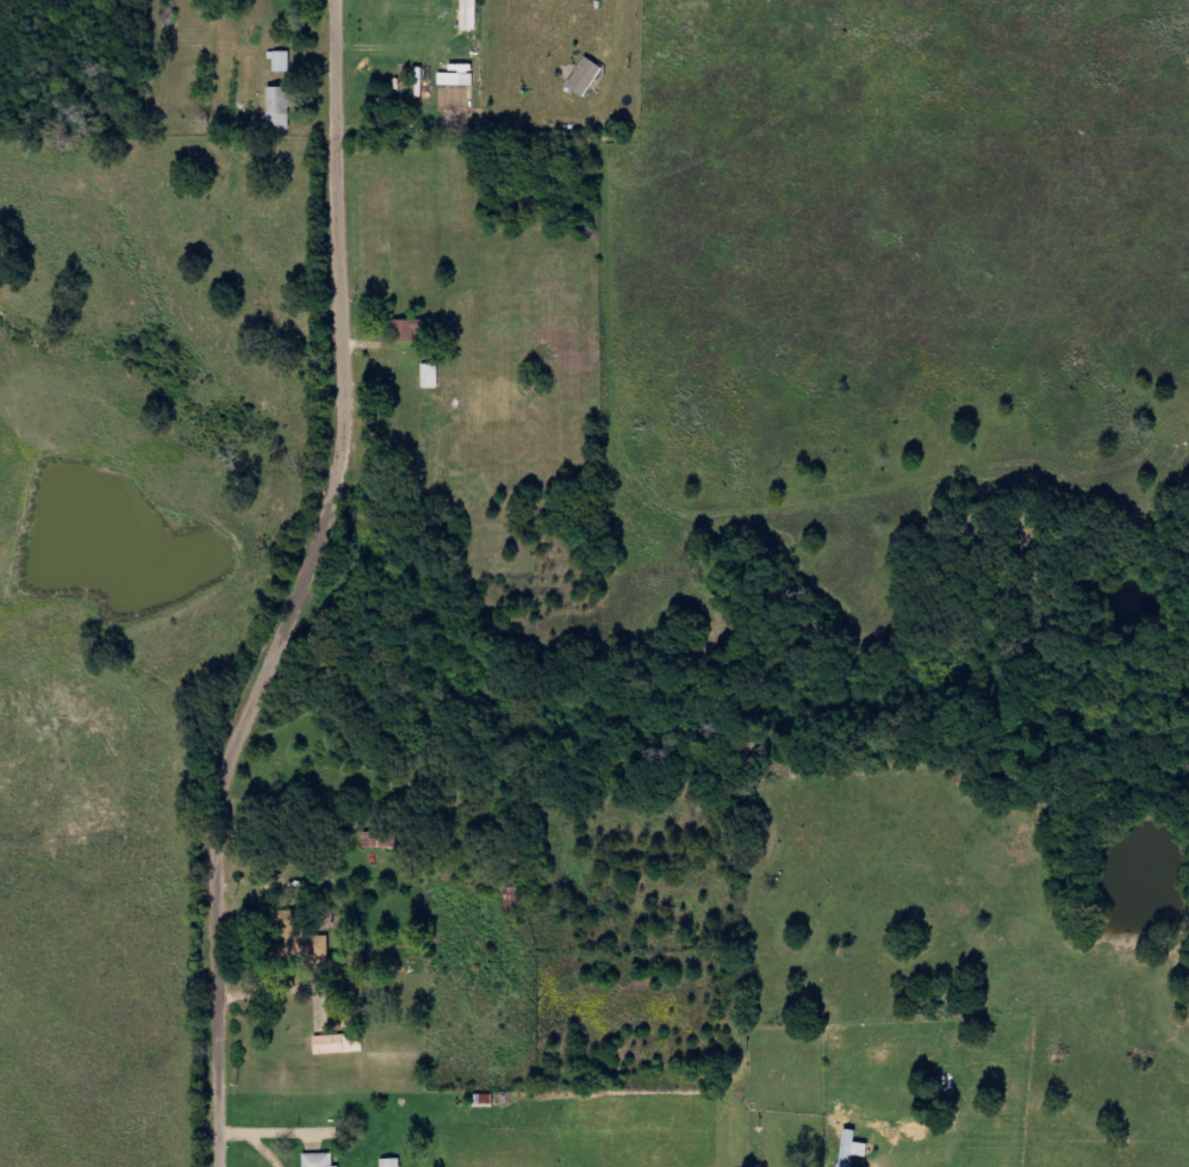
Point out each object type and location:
building: (469, 15)
building: (282, 62)
building: (586, 76)
building: (457, 80)
building: (422, 81)
building: (279, 108)
building: (407, 330)
building: (431, 375)
road: (309, 588)
building: (380, 839)
building: (298, 937)
building: (336, 1044)
building: (848, 1148)
building: (319, 1160)
building: (391, 1162)

